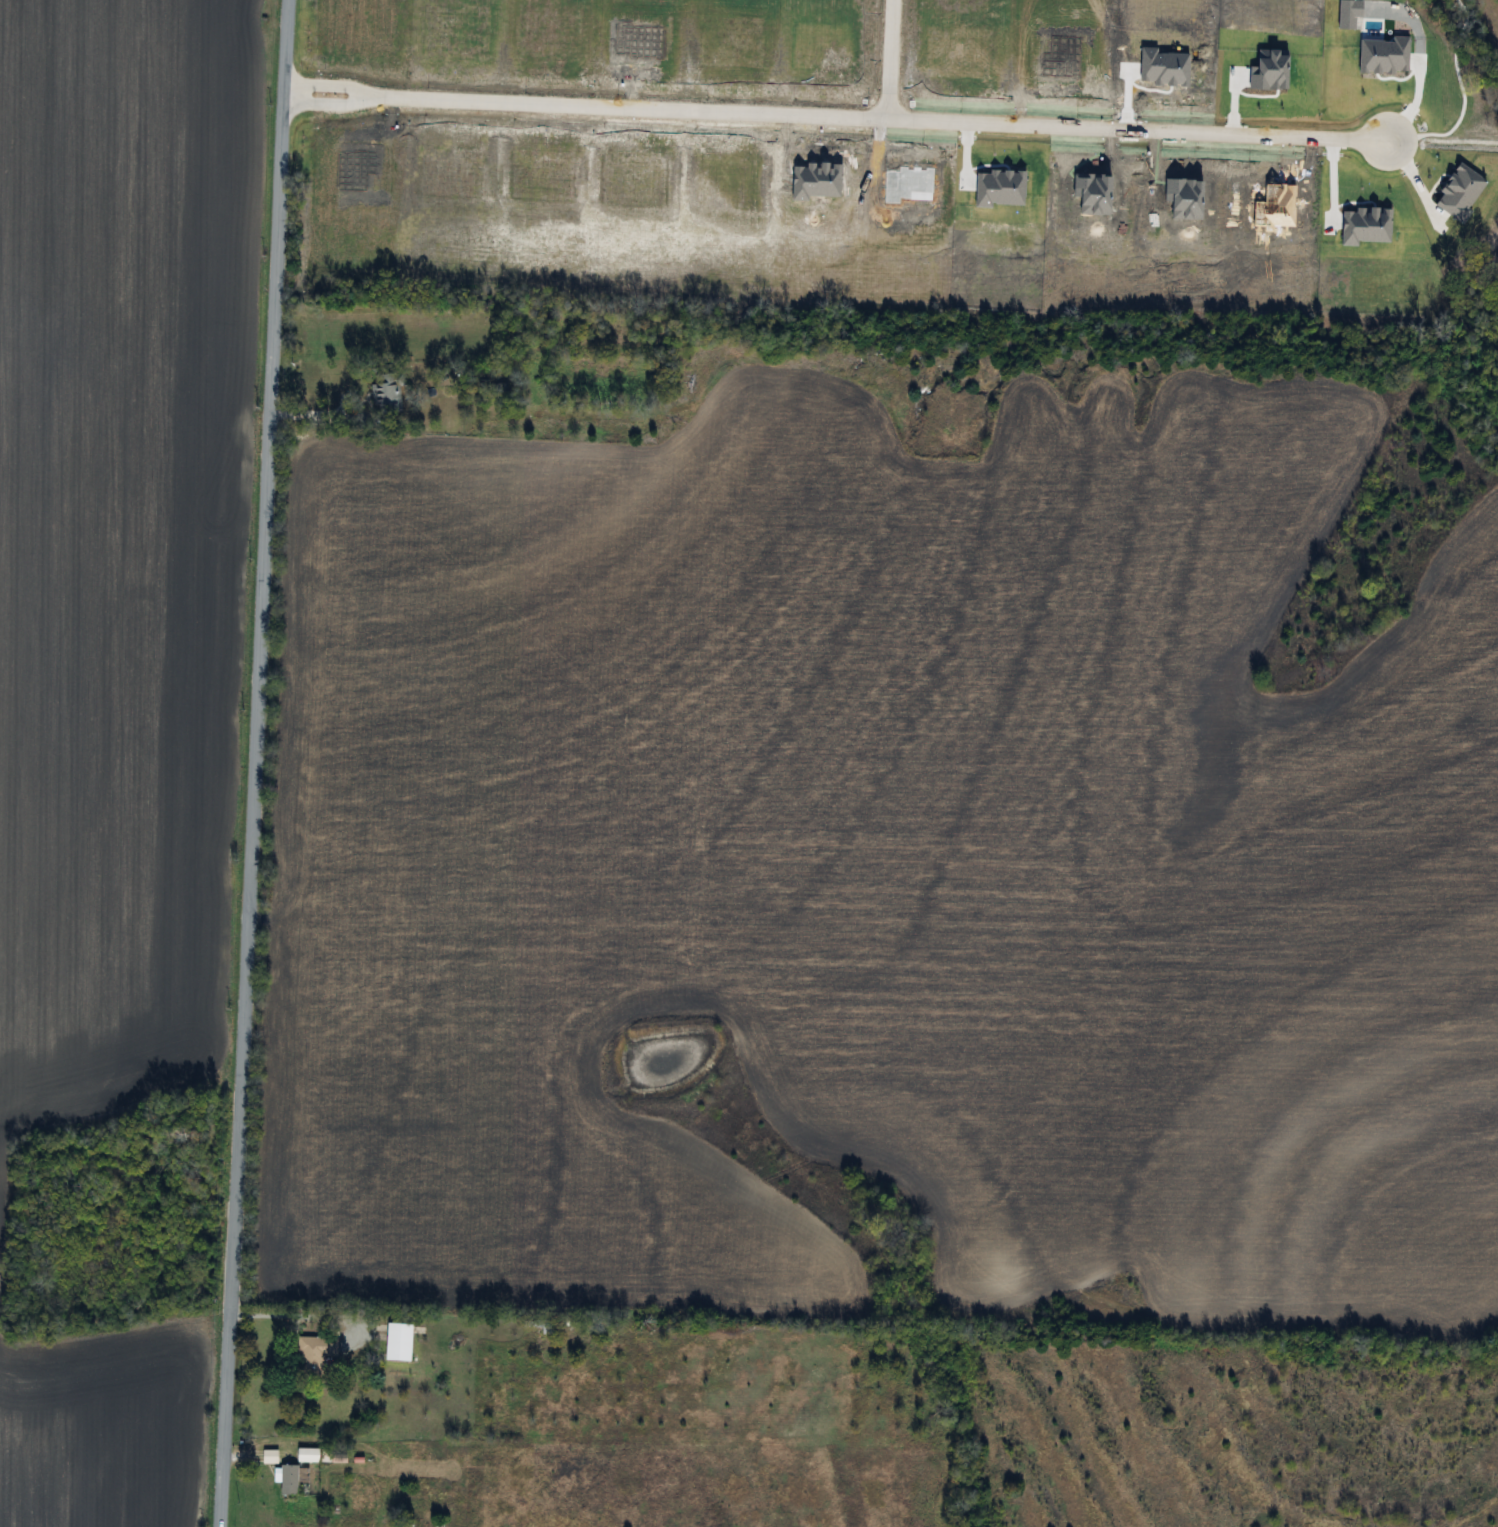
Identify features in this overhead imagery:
road: (325, 82)
road: (326, 106)
road: (683, 109)
road: (1136, 129)
building: (386, 391)
road: (317, 412)
road: (253, 763)
road: (298, 1311)
building: (397, 1342)
building: (312, 1356)
building: (307, 1455)
building: (291, 1479)

